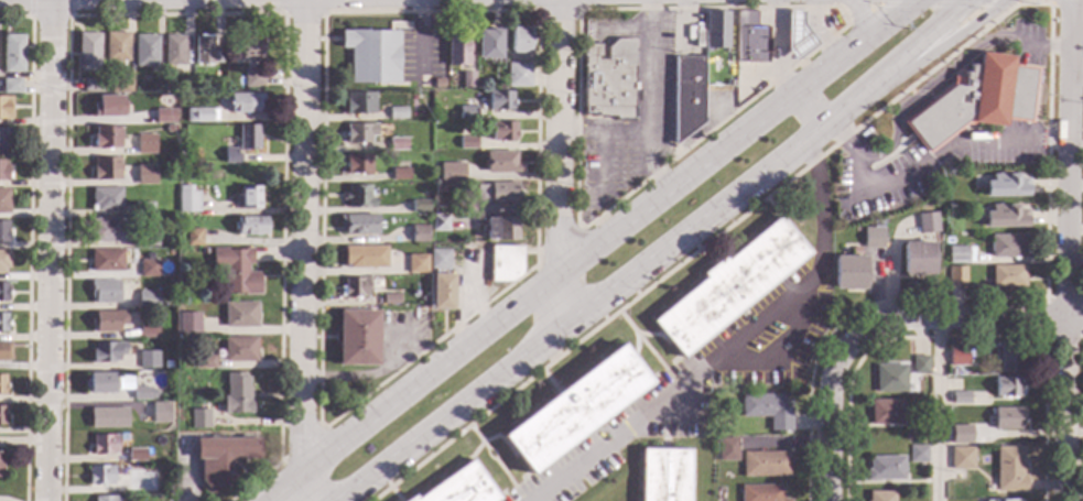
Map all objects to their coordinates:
road: (986, 1)
road: (928, 3)
road: (1001, 3)
road: (1065, 3)
traffic signals: (967, 7)
road: (862, 14)
road: (857, 19)
building: (516, 20)
road: (1076, 22)
road: (1069, 24)
building: (716, 29)
road: (982, 31)
building: (797, 34)
building: (750, 37)
building: (519, 40)
building: (489, 42)
building: (117, 45)
building: (250, 46)
building: (457, 46)
building: (145, 48)
building: (174, 50)
building: (206, 50)
building: (88, 51)
building: (13, 53)
building: (371, 55)
building: (727, 64)
road: (778, 69)
road: (944, 72)
building: (518, 74)
building: (253, 77)
building: (196, 78)
building: (609, 78)
building: (467, 79)
building: (121, 80)
building: (186, 81)
building: (437, 83)
building: (93, 84)
building: (11, 85)
building: (686, 95)
building: (966, 98)
building: (500, 99)
building: (246, 102)
building: (359, 102)
building: (108, 106)
building: (6, 107)
road: (652, 110)
building: (468, 111)
building: (397, 112)
building: (435, 113)
building: (199, 115)
building: (164, 116)
road: (714, 126)
building: (170, 128)
building: (359, 131)
building: (503, 131)
building: (106, 137)
building: (3, 139)
building: (242, 142)
building: (397, 142)
building: (467, 142)
building: (145, 143)
building: (502, 161)
road: (925, 161)
road: (562, 162)
building: (358, 163)
building: (106, 167)
building: (2, 171)
building: (452, 171)
building: (399, 173)
road: (812, 173)
building: (145, 174)
road: (1068, 182)
building: (1006, 185)
building: (438, 187)
building: (503, 192)
building: (481, 193)
building: (358, 196)
building: (106, 198)
building: (250, 198)
building: (3, 199)
building: (187, 199)
building: (420, 205)
building: (142, 207)
building: (1005, 216)
building: (438, 221)
building: (927, 221)
building: (358, 224)
building: (251, 225)
building: (499, 227)
building: (108, 229)
building: (3, 230)
building: (419, 232)
building: (167, 236)
building: (194, 236)
building: (871, 237)
building: (147, 238)
road: (560, 246)
building: (1007, 246)
road: (591, 249)
road: (52, 250)
road: (302, 250)
road: (660, 254)
building: (957, 254)
building: (364, 255)
building: (918, 258)
building: (106, 259)
building: (438, 259)
building: (3, 260)
building: (505, 262)
building: (408, 266)
building: (149, 268)
building: (236, 269)
building: (848, 271)
building: (956, 274)
building: (1008, 275)
building: (355, 286)
building: (728, 286)
building: (3, 291)
building: (105, 291)
building: (442, 291)
building: (408, 297)
building: (148, 298)
building: (390, 298)
building: (422, 298)
building: (422, 311)
building: (240, 314)
road: (955, 316)
road: (1044, 316)
road: (1074, 316)
building: (107, 319)
building: (2, 322)
building: (188, 322)
building: (148, 328)
road: (959, 336)
building: (357, 337)
road: (431, 346)
building: (239, 348)
road: (650, 349)
road: (804, 349)
building: (4, 350)
building: (106, 350)
road: (786, 350)
building: (959, 355)
building: (1010, 358)
building: (148, 359)
building: (205, 361)
building: (192, 362)
building: (920, 363)
road: (701, 370)
building: (952, 370)
road: (364, 374)
building: (890, 378)
building: (123, 381)
building: (101, 382)
building: (1, 383)
building: (1008, 385)
building: (144, 392)
building: (237, 393)
building: (961, 396)
building: (575, 409)
road: (936, 409)
road: (1065, 409)
building: (768, 410)
building: (885, 411)
building: (161, 412)
building: (2, 415)
building: (108, 416)
building: (199, 417)
road: (829, 417)
building: (1005, 418)
building: (974, 431)
building: (914, 432)
building: (961, 434)
building: (105, 443)
road: (302, 445)
building: (727, 448)
building: (917, 453)
building: (137, 454)
building: (221, 457)
building: (962, 457)
building: (0, 459)
road: (497, 462)
building: (766, 462)
road: (1082, 466)
building: (885, 467)
building: (1009, 468)
building: (100, 473)
building: (665, 473)
road: (256, 482)
building: (136, 484)
building: (459, 486)
building: (719, 490)
building: (762, 492)
building: (880, 495)
building: (105, 498)
building: (1003, 500)

